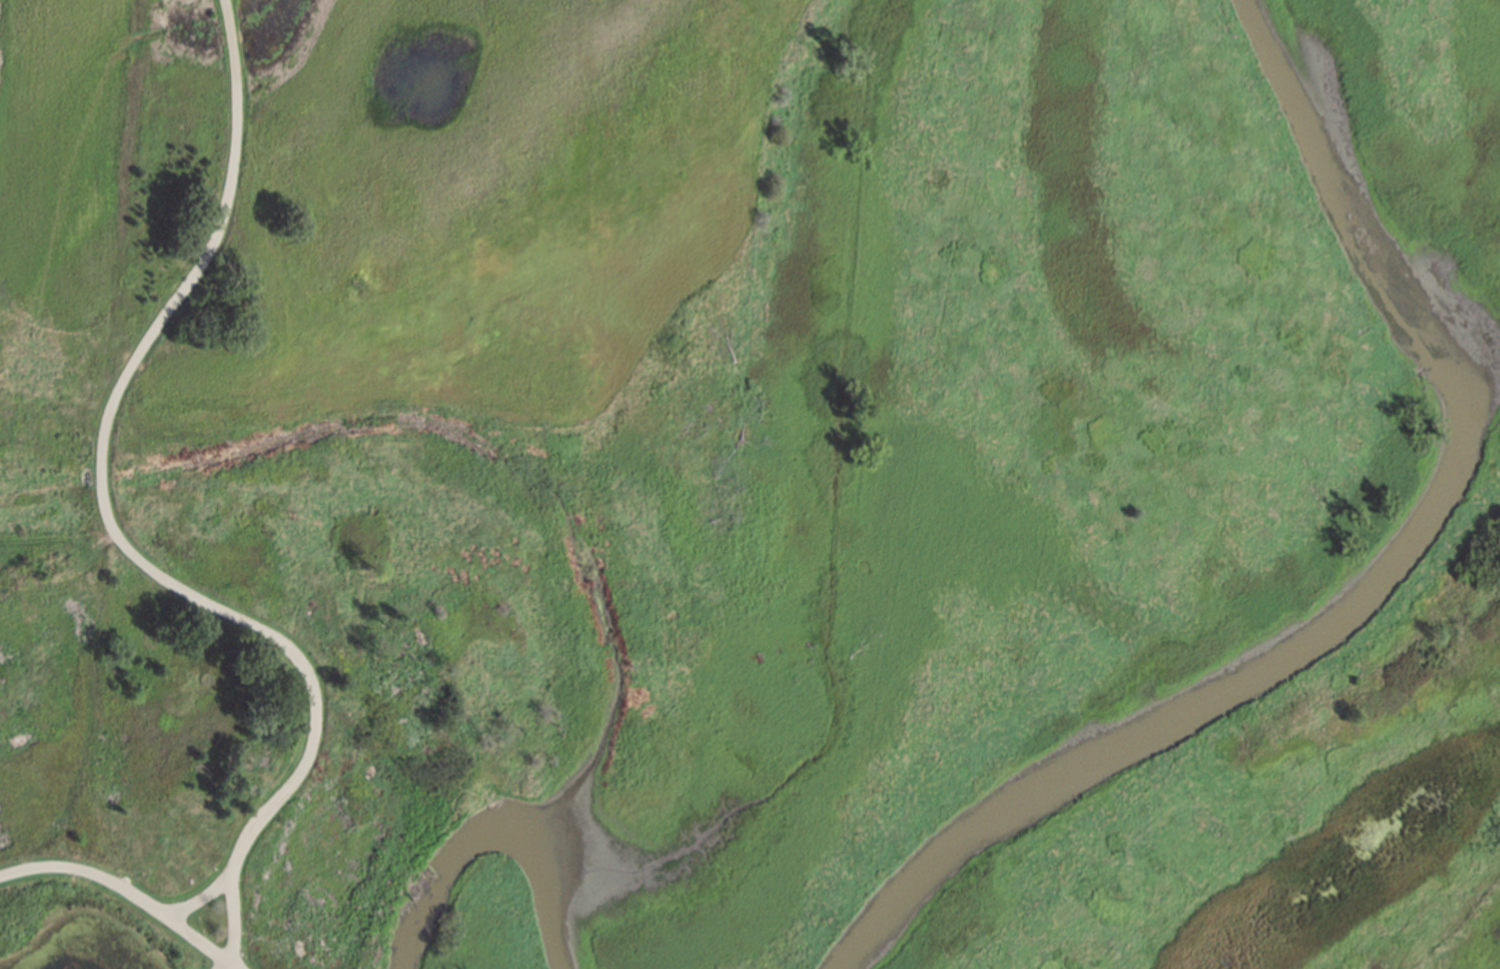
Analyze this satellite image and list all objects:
road: (113, 531)
river: (1378, 574)
river: (500, 831)
road: (126, 888)
road: (200, 898)
road: (229, 967)
road: (235, 967)

